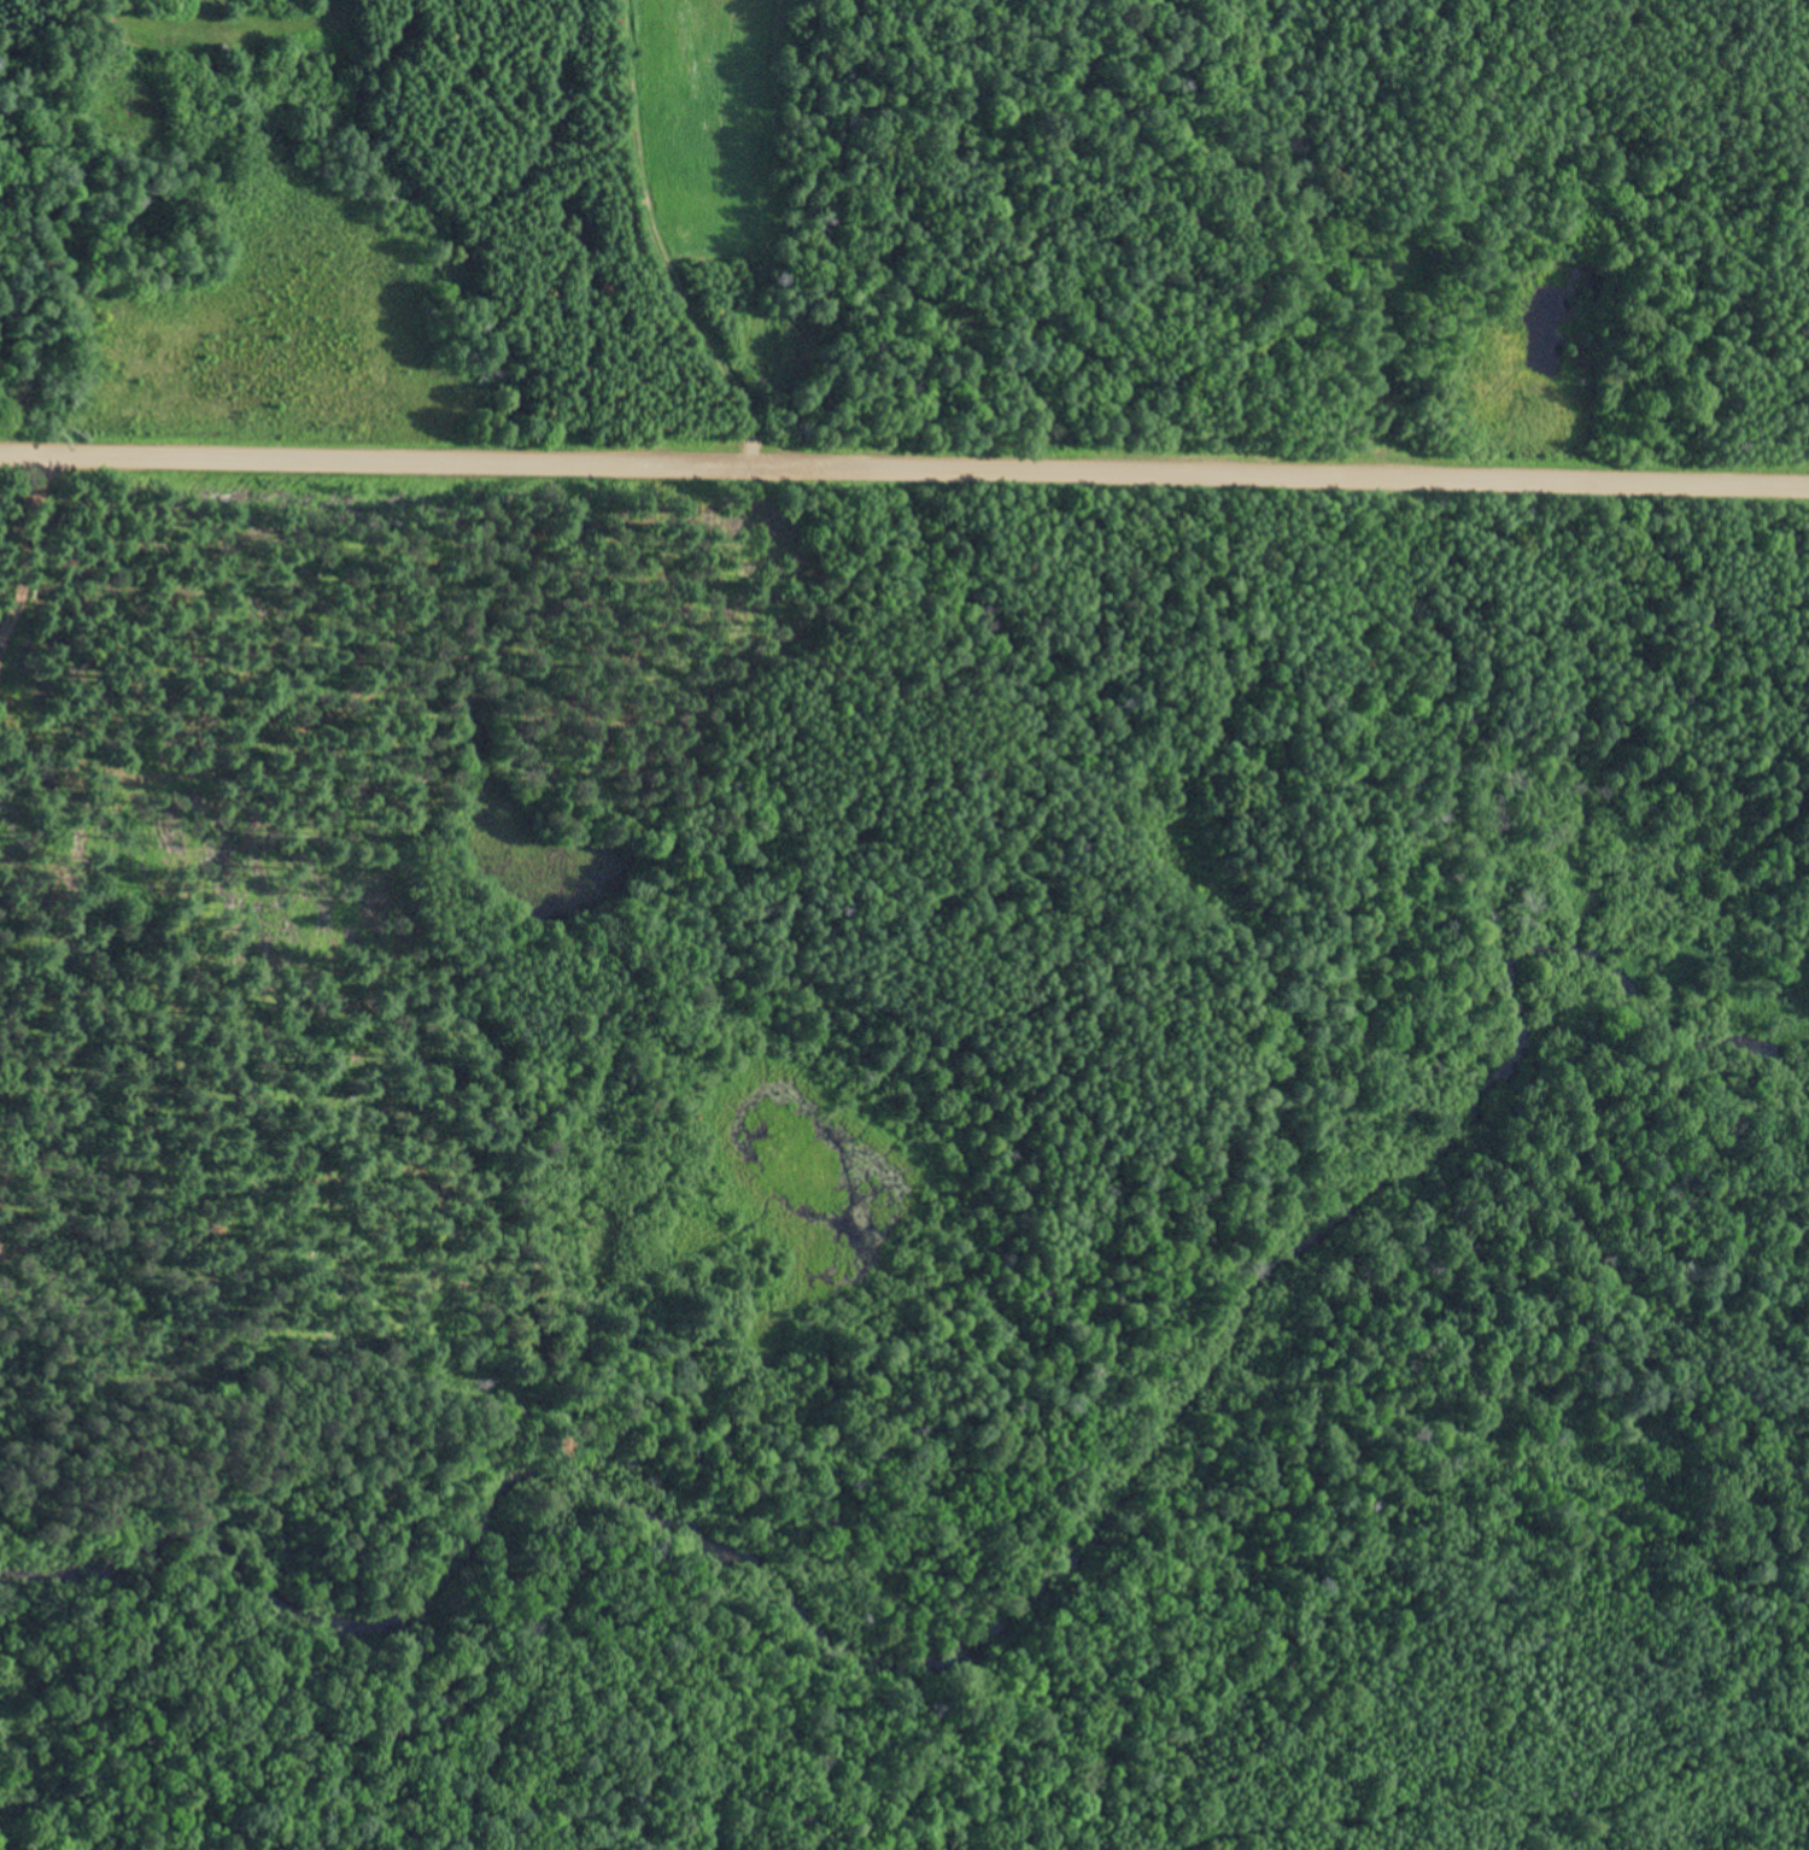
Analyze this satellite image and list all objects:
road: (904, 445)
river: (1507, 1107)
river: (640, 1512)

